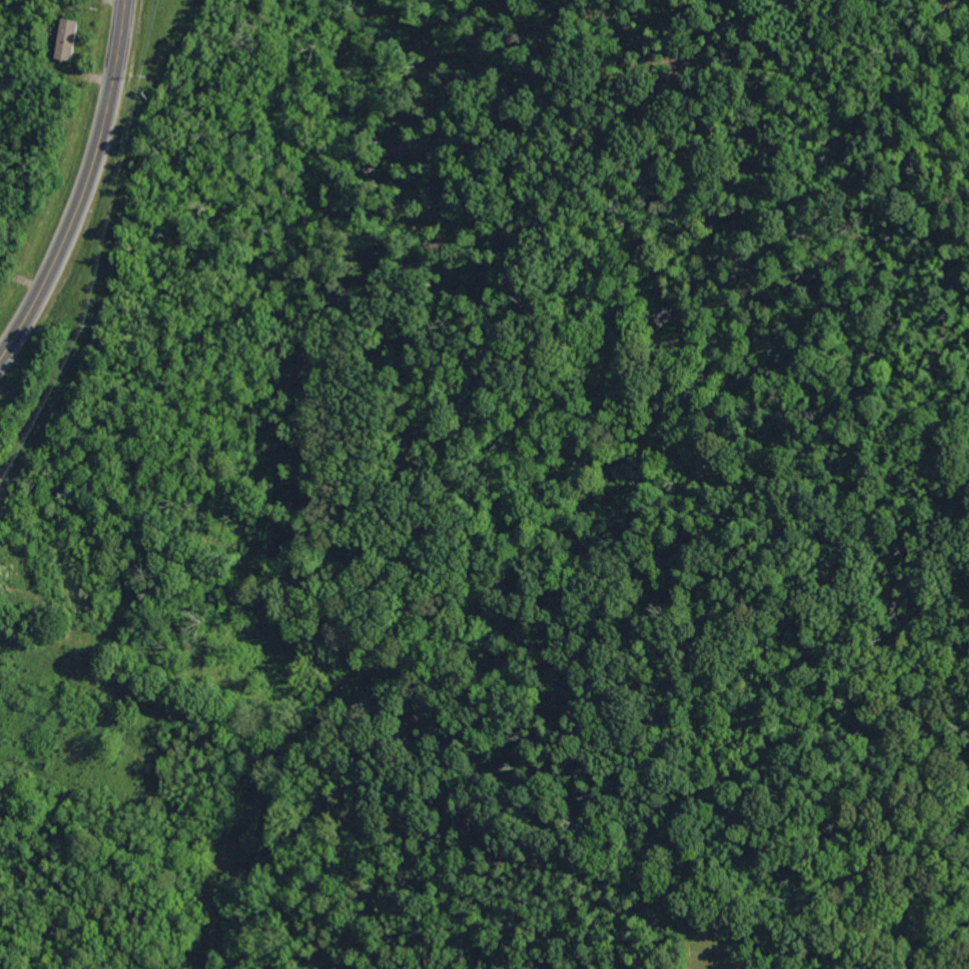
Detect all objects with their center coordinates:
building: (63, 39)
road: (85, 186)
building: (0, 470)

